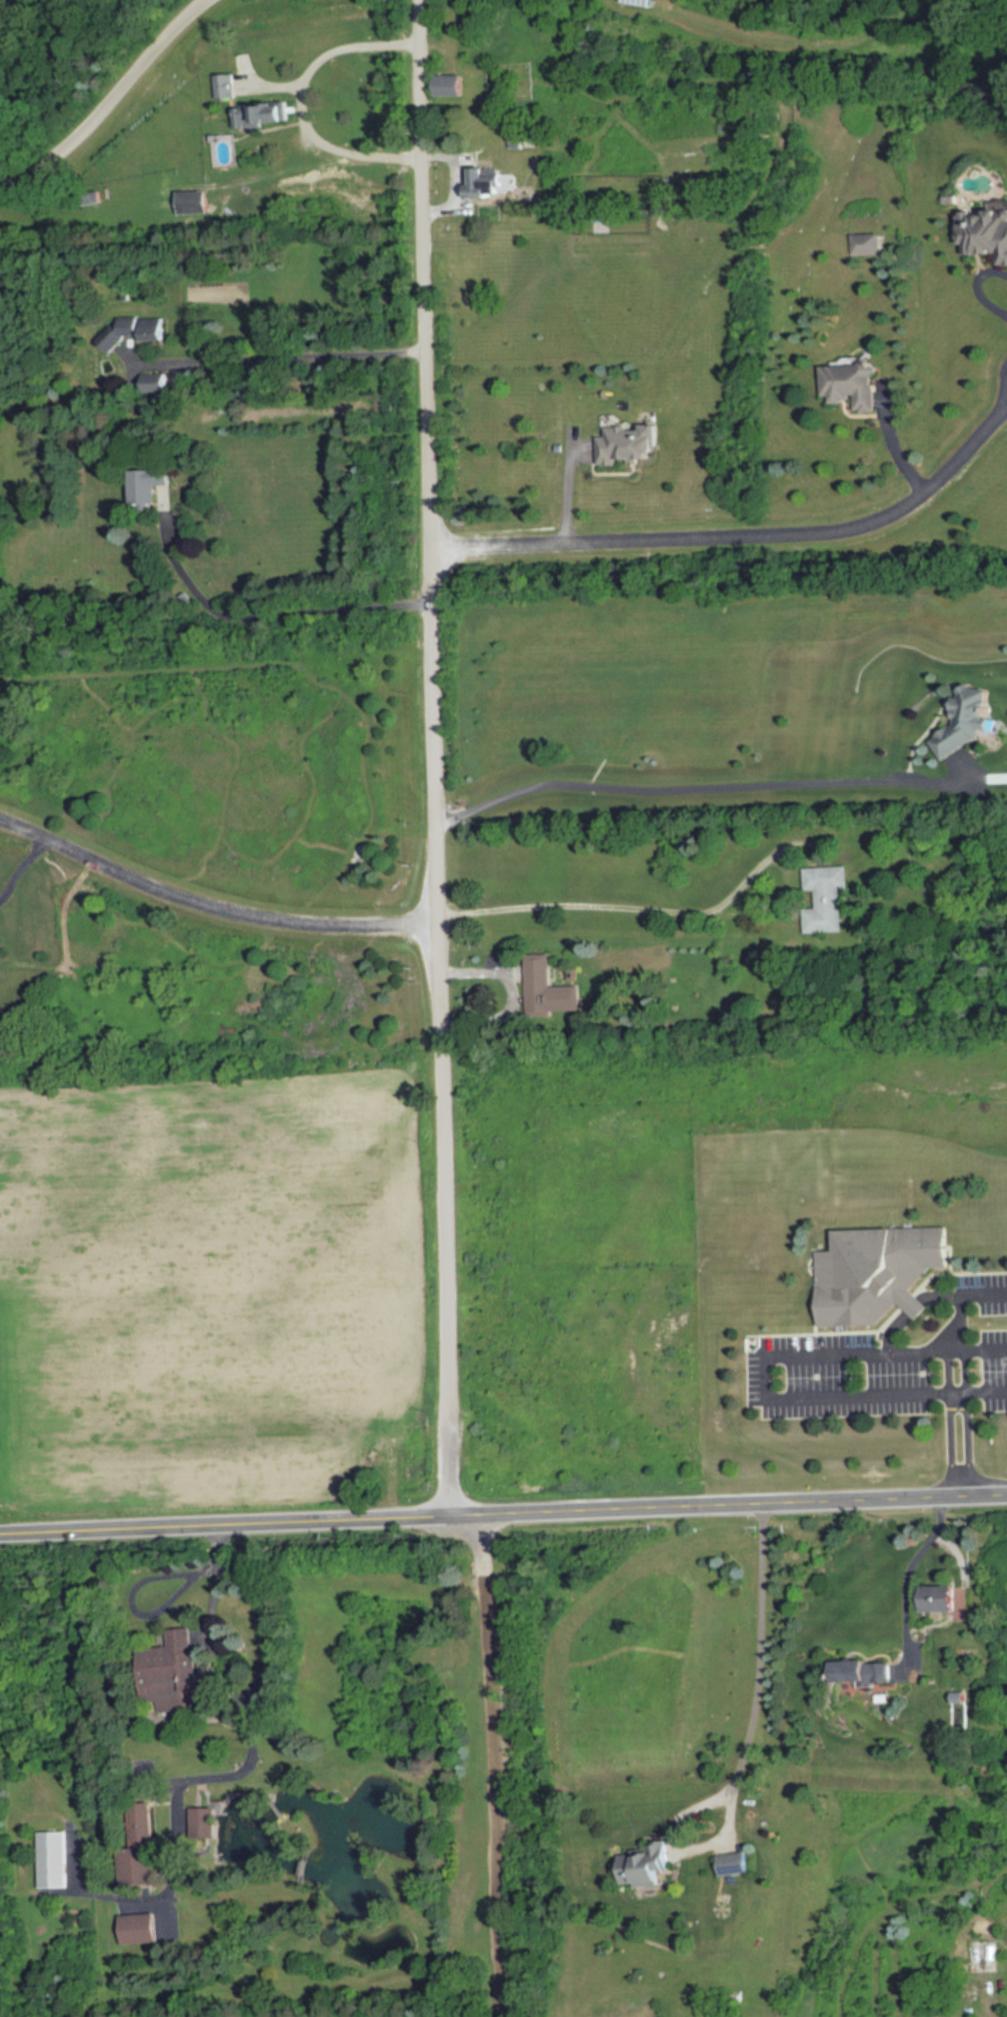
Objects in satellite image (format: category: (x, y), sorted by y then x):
building: (640, 2)
road: (329, 52)
building: (450, 84)
building: (225, 85)
road: (111, 102)
building: (259, 113)
building: (517, 137)
road: (340, 149)
building: (484, 180)
road: (454, 181)
building: (91, 197)
building: (192, 200)
building: (984, 231)
building: (865, 243)
road: (979, 286)
building: (134, 329)
road: (282, 358)
building: (153, 381)
building: (850, 383)
building: (628, 443)
road: (892, 444)
building: (146, 484)
road: (568, 488)
road: (747, 539)
road: (275, 614)
road: (434, 709)
building: (967, 720)
road: (697, 788)
road: (22, 865)
building: (823, 898)
road: (208, 903)
road: (608, 905)
building: (548, 987)
building: (874, 1271)
road: (985, 1289)
crop: (215, 1291)
road: (913, 1306)
road: (956, 1330)
parking lot: (878, 1366)
road: (978, 1387)
road: (772, 1393)
road: (969, 1441)
road: (951, 1442)
road: (451, 1465)
road: (503, 1510)
road: (907, 1576)
road: (139, 1582)
building: (935, 1598)
building: (168, 1670)
building: (859, 1671)
road: (743, 1747)
road: (497, 1763)
road: (210, 1779)
building: (204, 1822)
building: (138, 1845)
building: (47, 1858)
road: (69, 1861)
building: (728, 1863)
building: (642, 1866)
building: (134, 1930)

